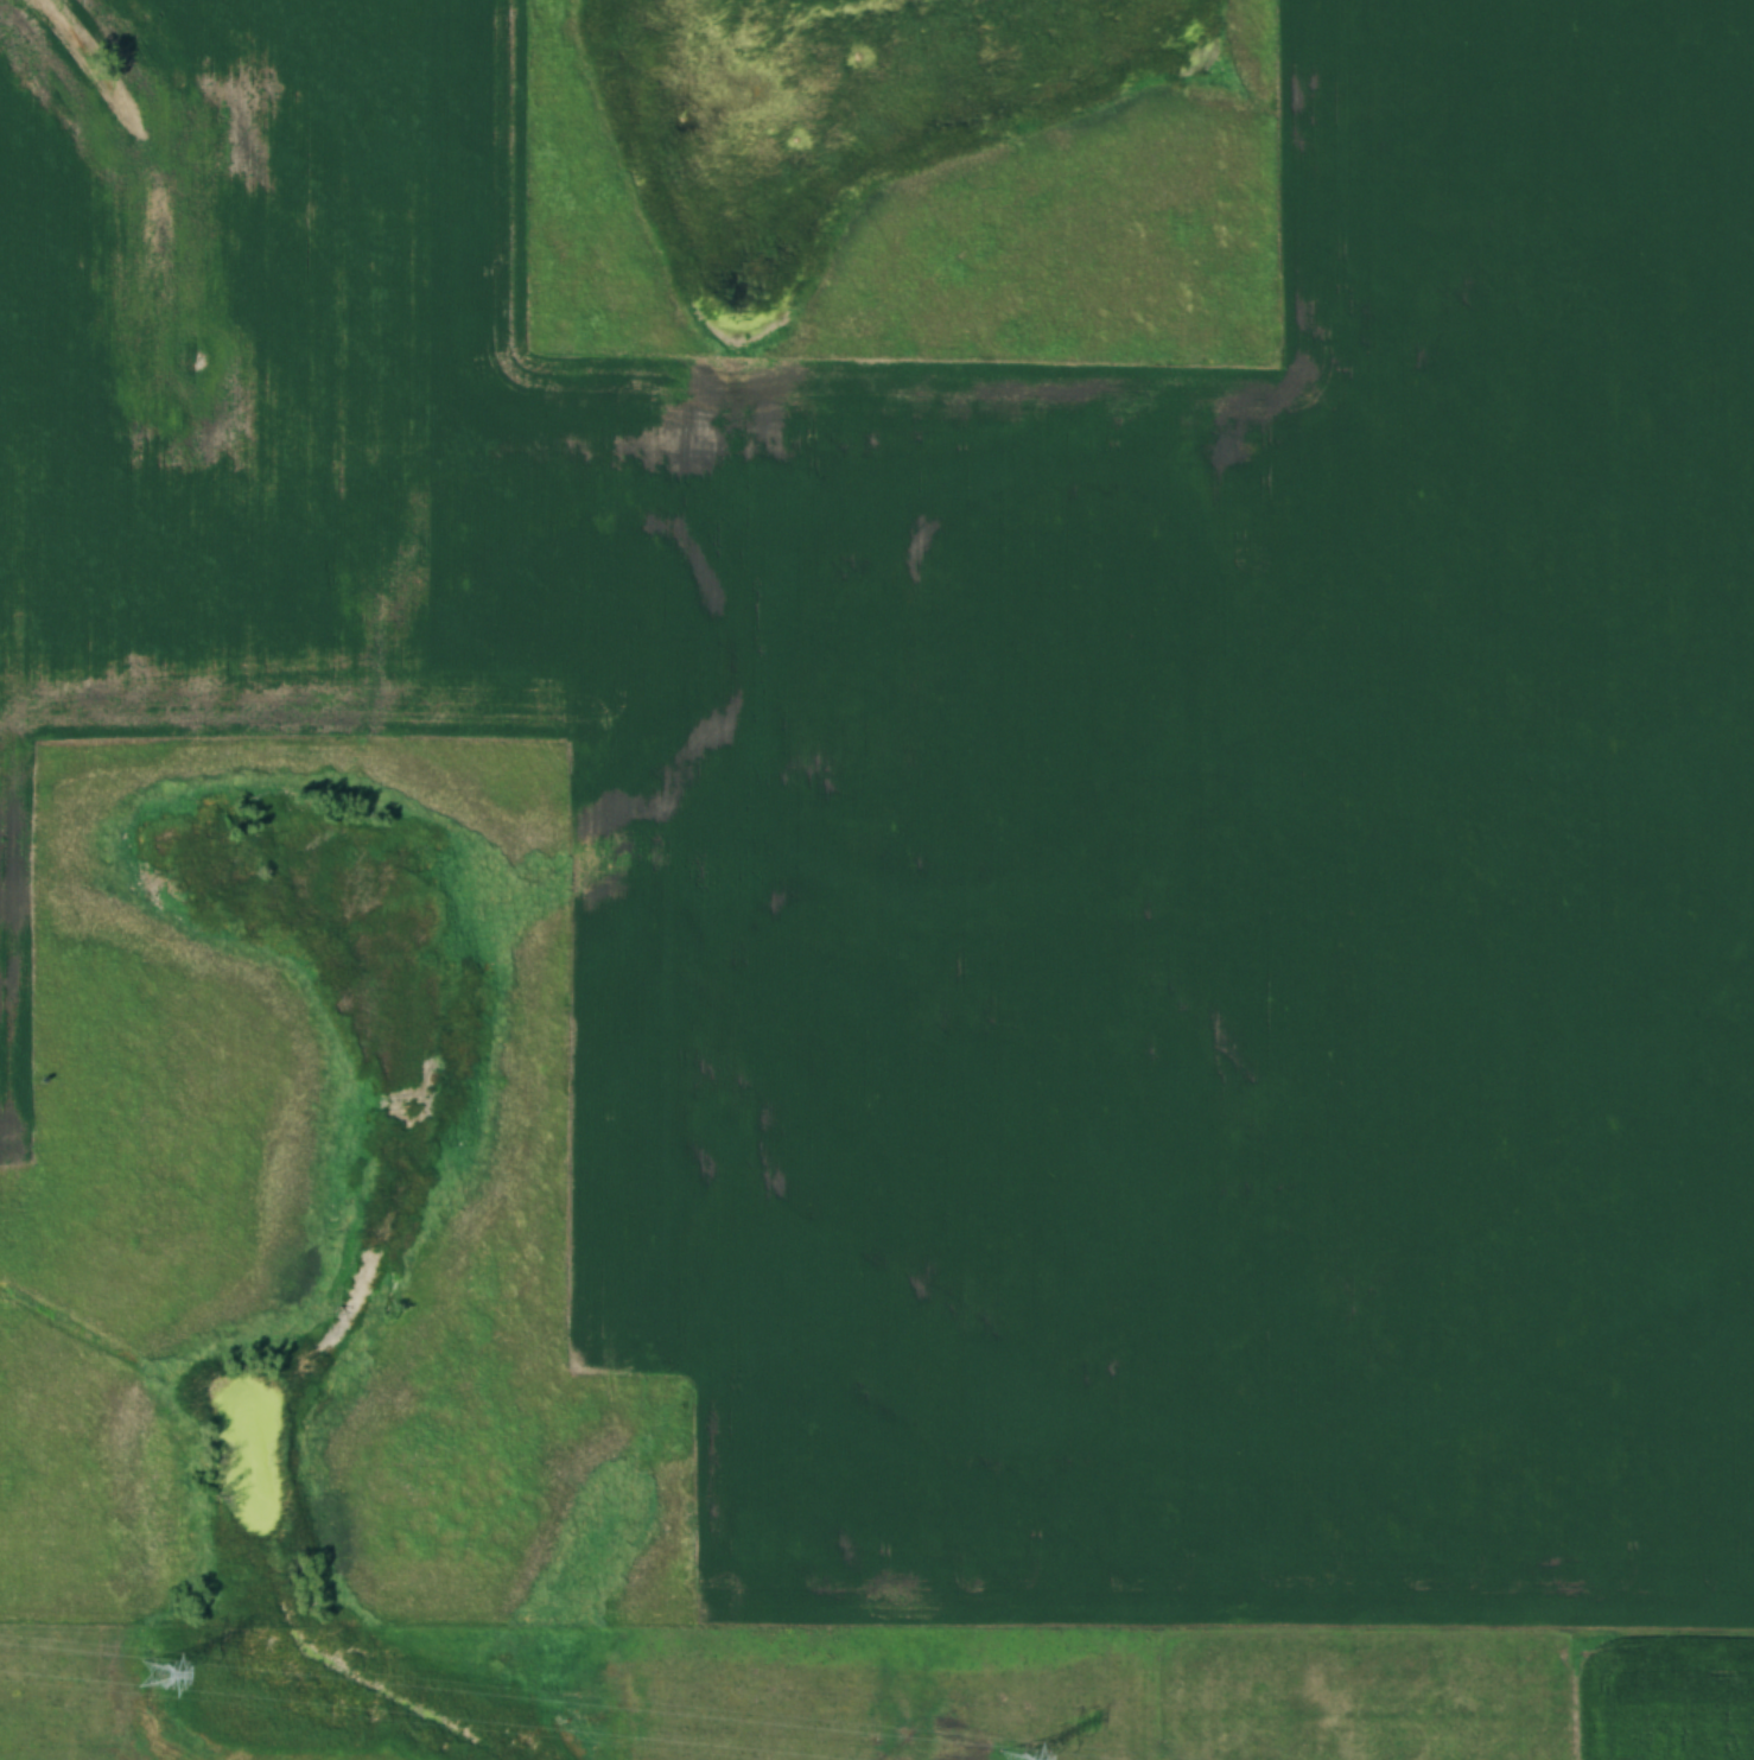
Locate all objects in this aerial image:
power tower: (129, 1673)
power tower: (989, 1748)

